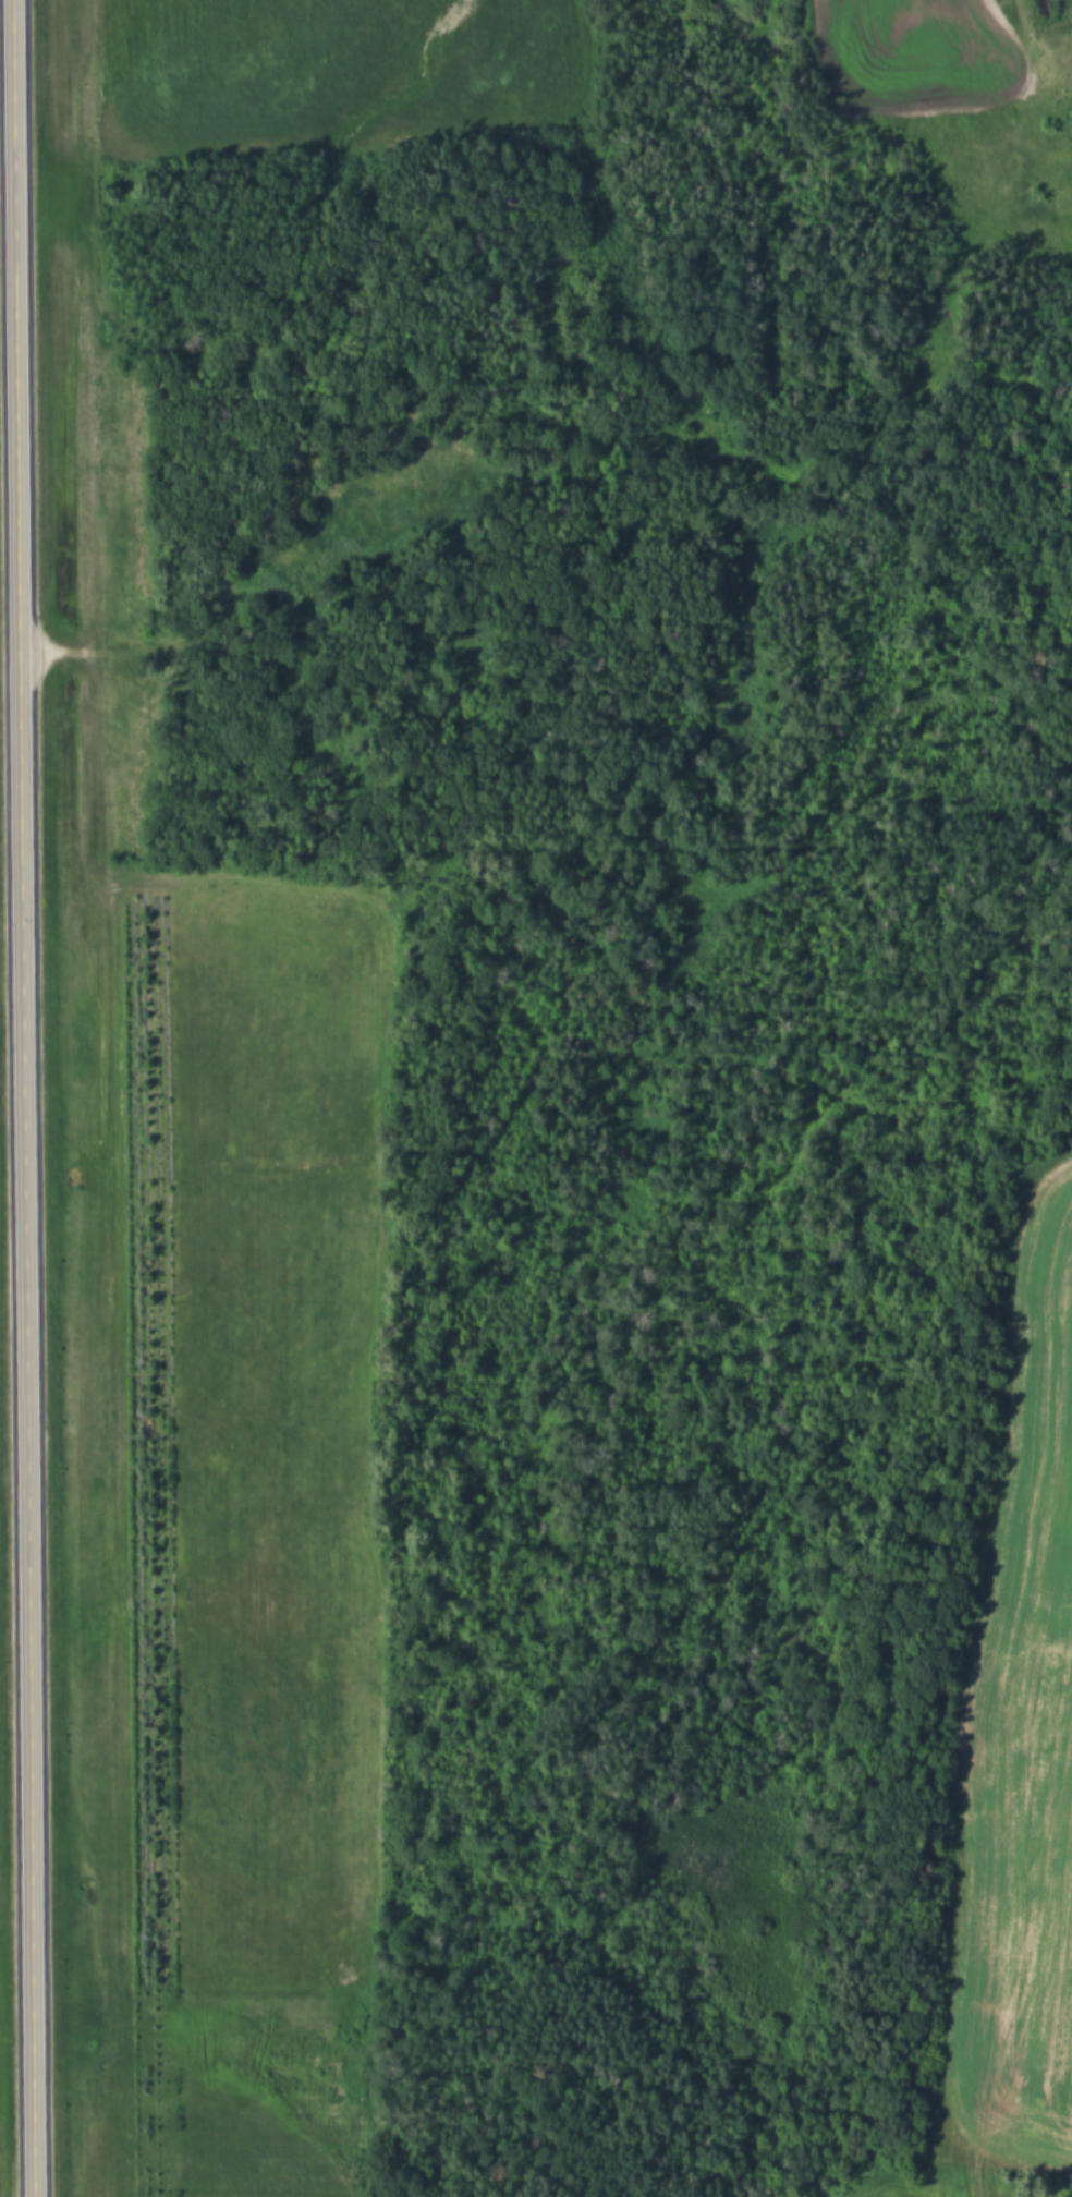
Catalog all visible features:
road: (21, 1097)

